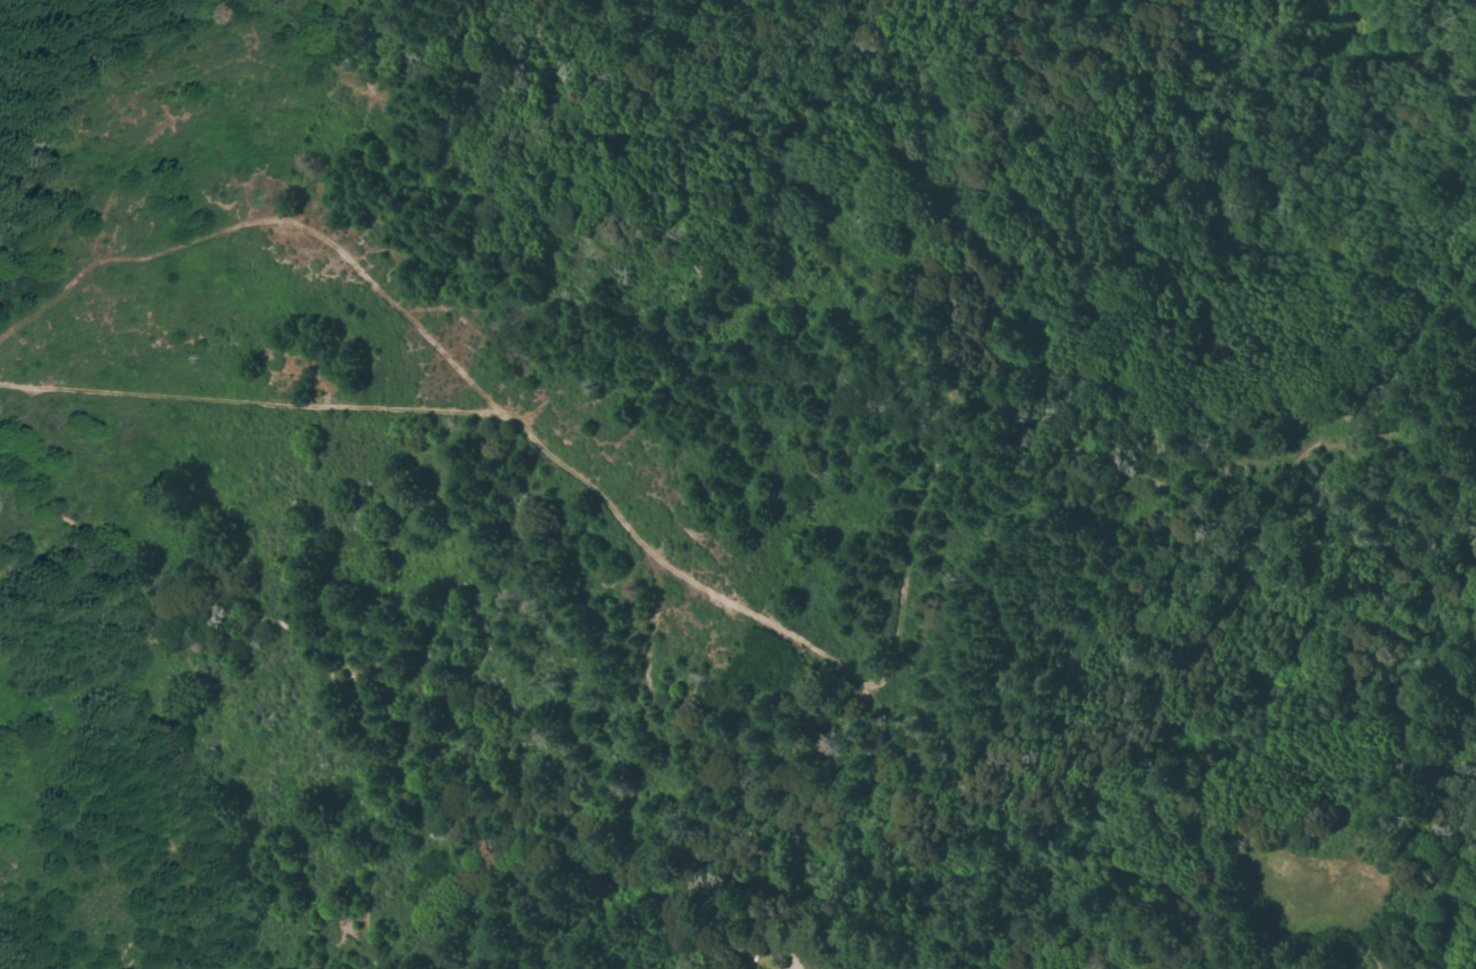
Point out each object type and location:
crop: (497, 466)

